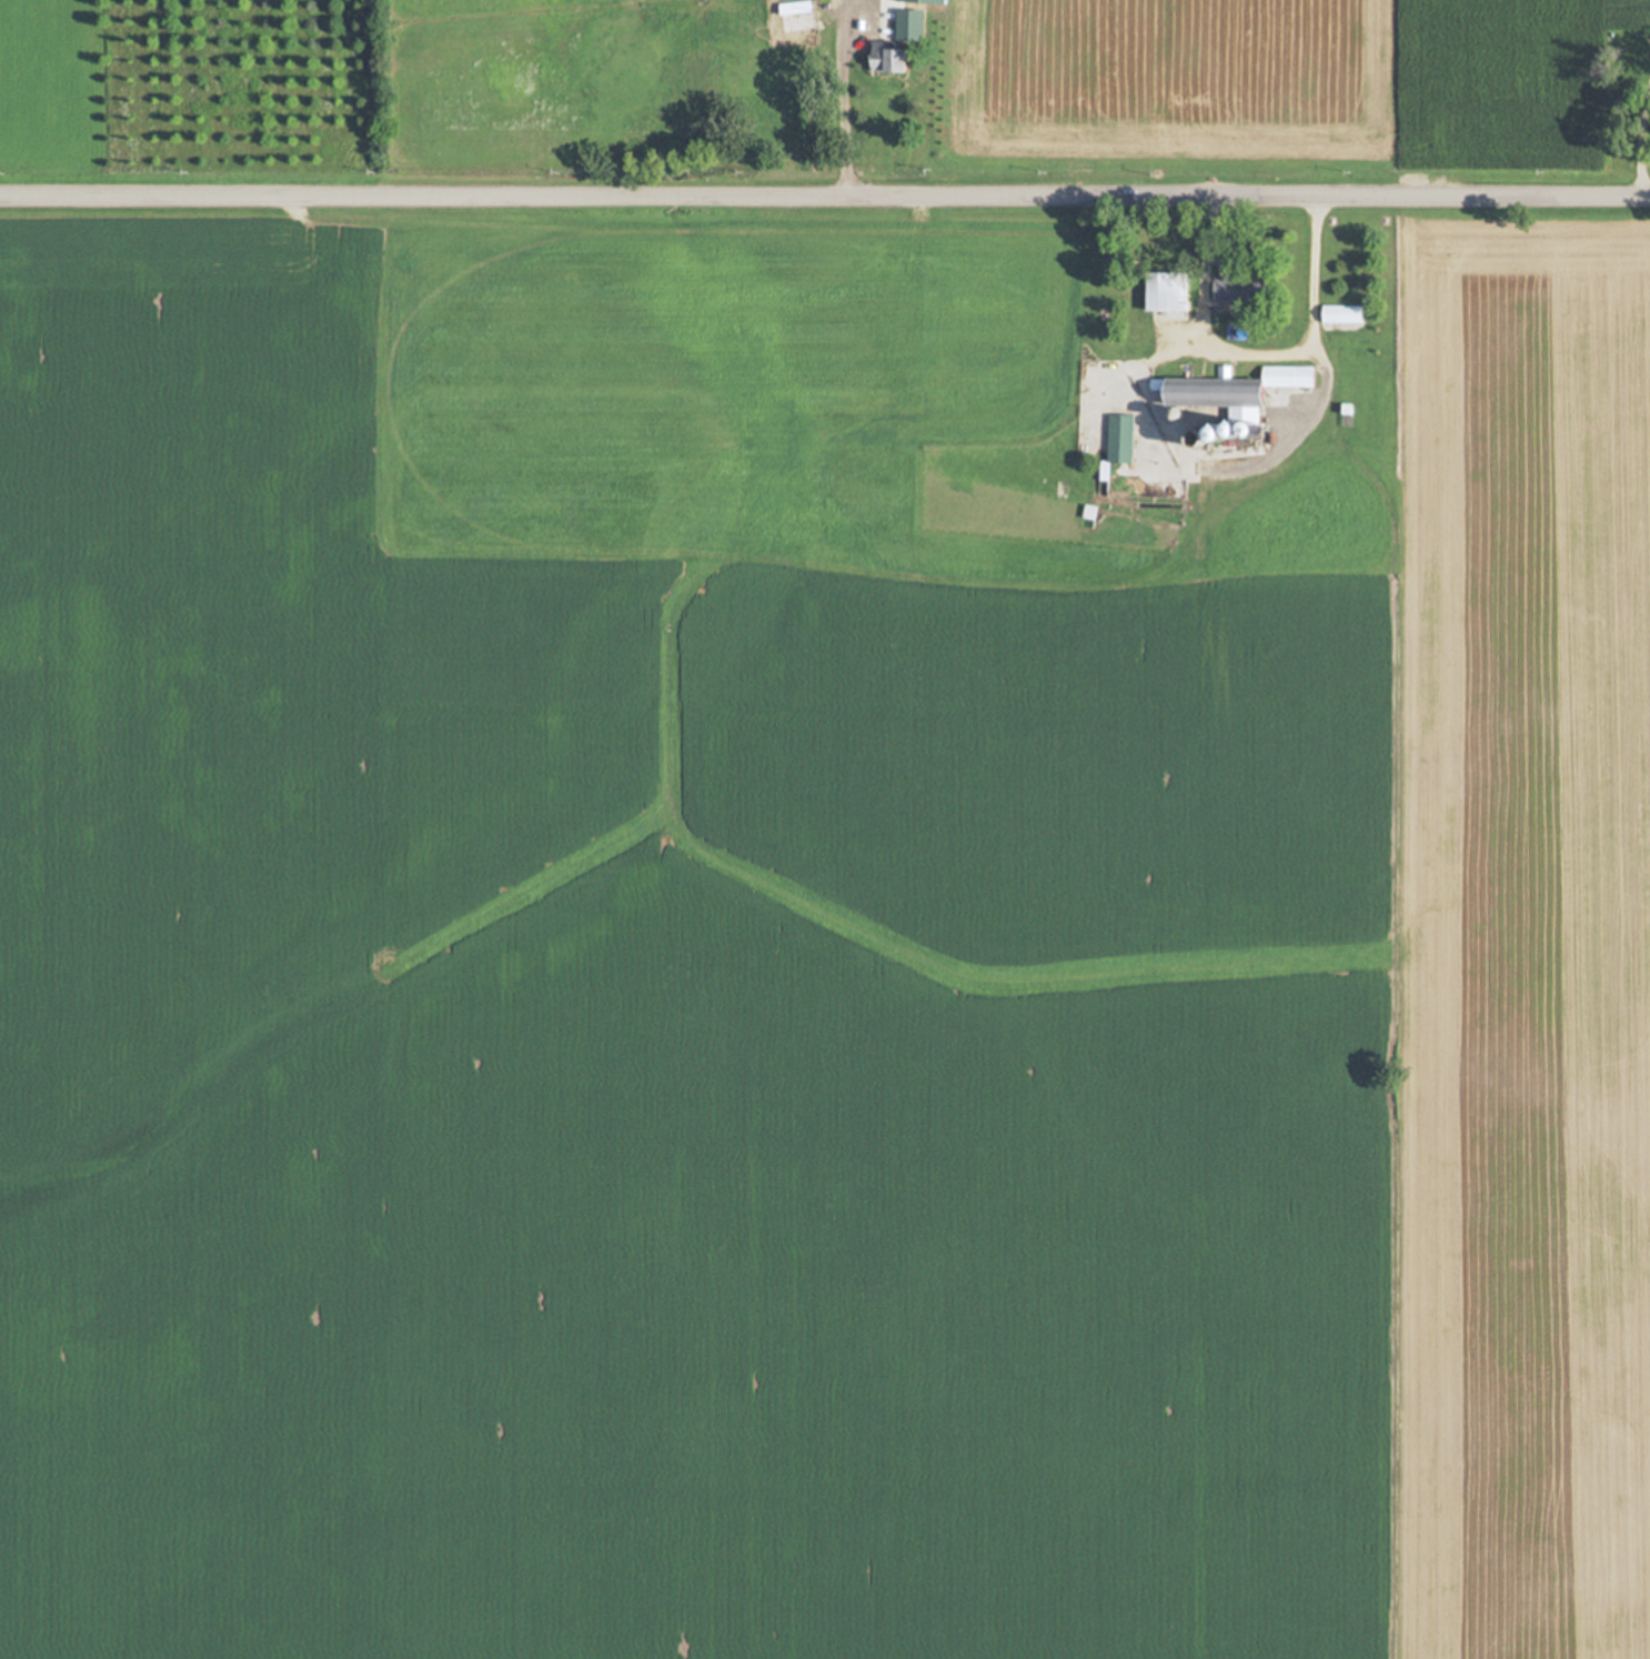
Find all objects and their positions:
building: (796, 8)
building: (912, 24)
building: (891, 60)
road: (825, 189)
building: (1241, 289)
building: (1169, 291)
building: (1344, 314)
road: (1246, 350)
building: (1239, 390)
building: (1121, 439)

